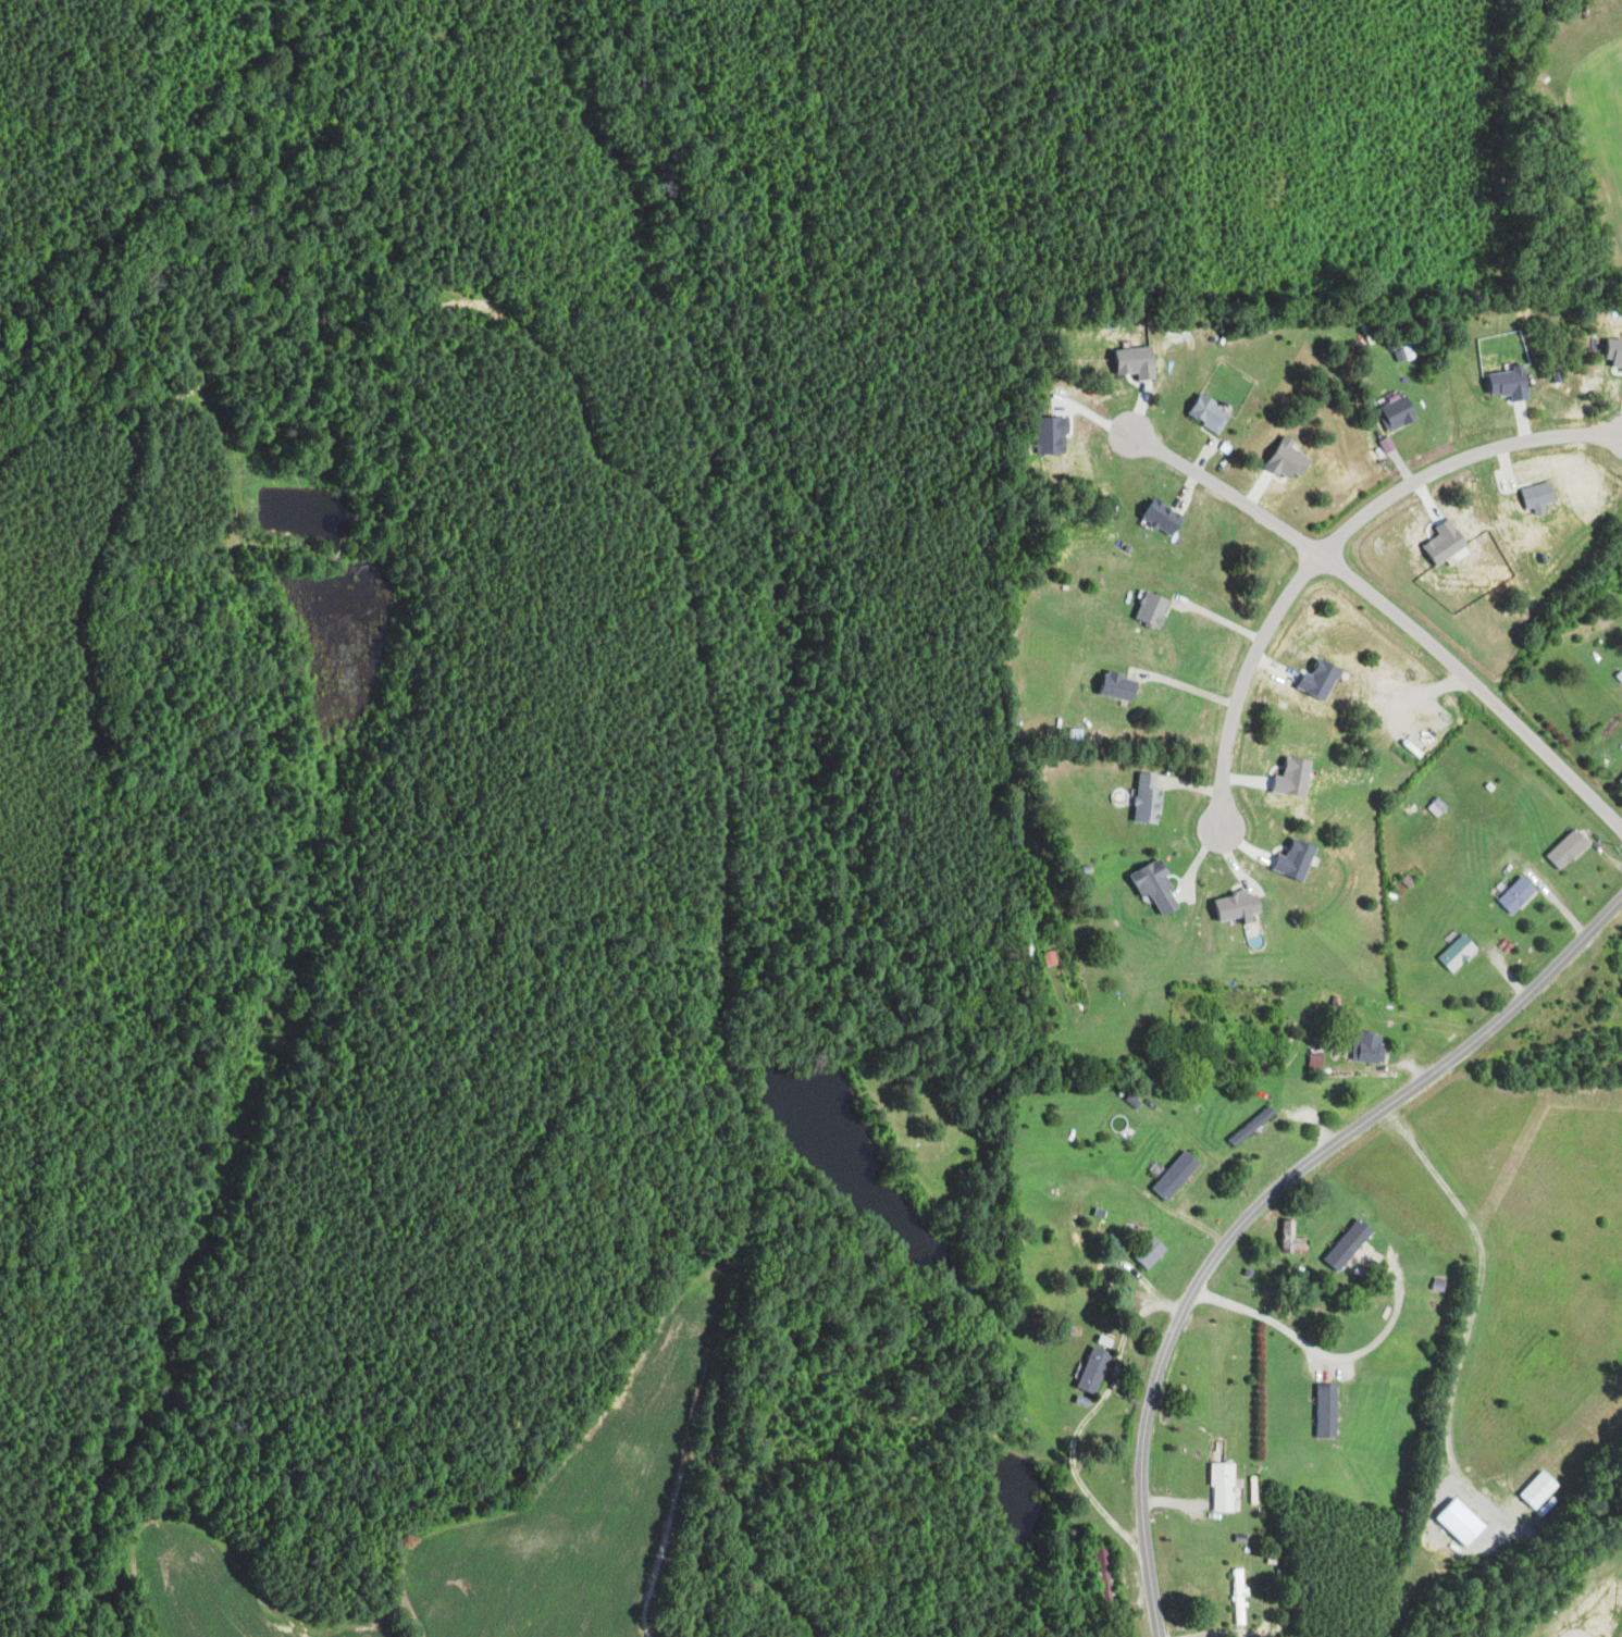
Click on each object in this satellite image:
building: (1614, 351)
building: (1511, 383)
building: (1210, 412)
building: (1399, 413)
building: (1540, 496)
building: (1164, 517)
road: (1332, 540)
building: (1154, 607)
road: (1389, 612)
building: (1323, 678)
building: (1118, 684)
road: (1187, 686)
building: (1296, 776)
building: (1621, 779)
building: (1149, 796)
building: (1568, 847)
building: (1298, 858)
building: (1519, 893)
building: (1238, 906)
road: (719, 948)
building: (1458, 952)
building: (1370, 1046)
building: (1177, 1174)
road: (1077, 1199)
road: (1263, 1201)
building: (1349, 1243)
building: (1152, 1251)
road: (1471, 1310)
road: (1273, 1323)
road: (1389, 1324)
building: (1094, 1368)
building: (1328, 1410)
road: (1077, 1428)
building: (1224, 1487)
building: (1540, 1489)
road: (673, 1495)
road: (728, 1504)
building: (1463, 1521)
building: (1240, 1597)

